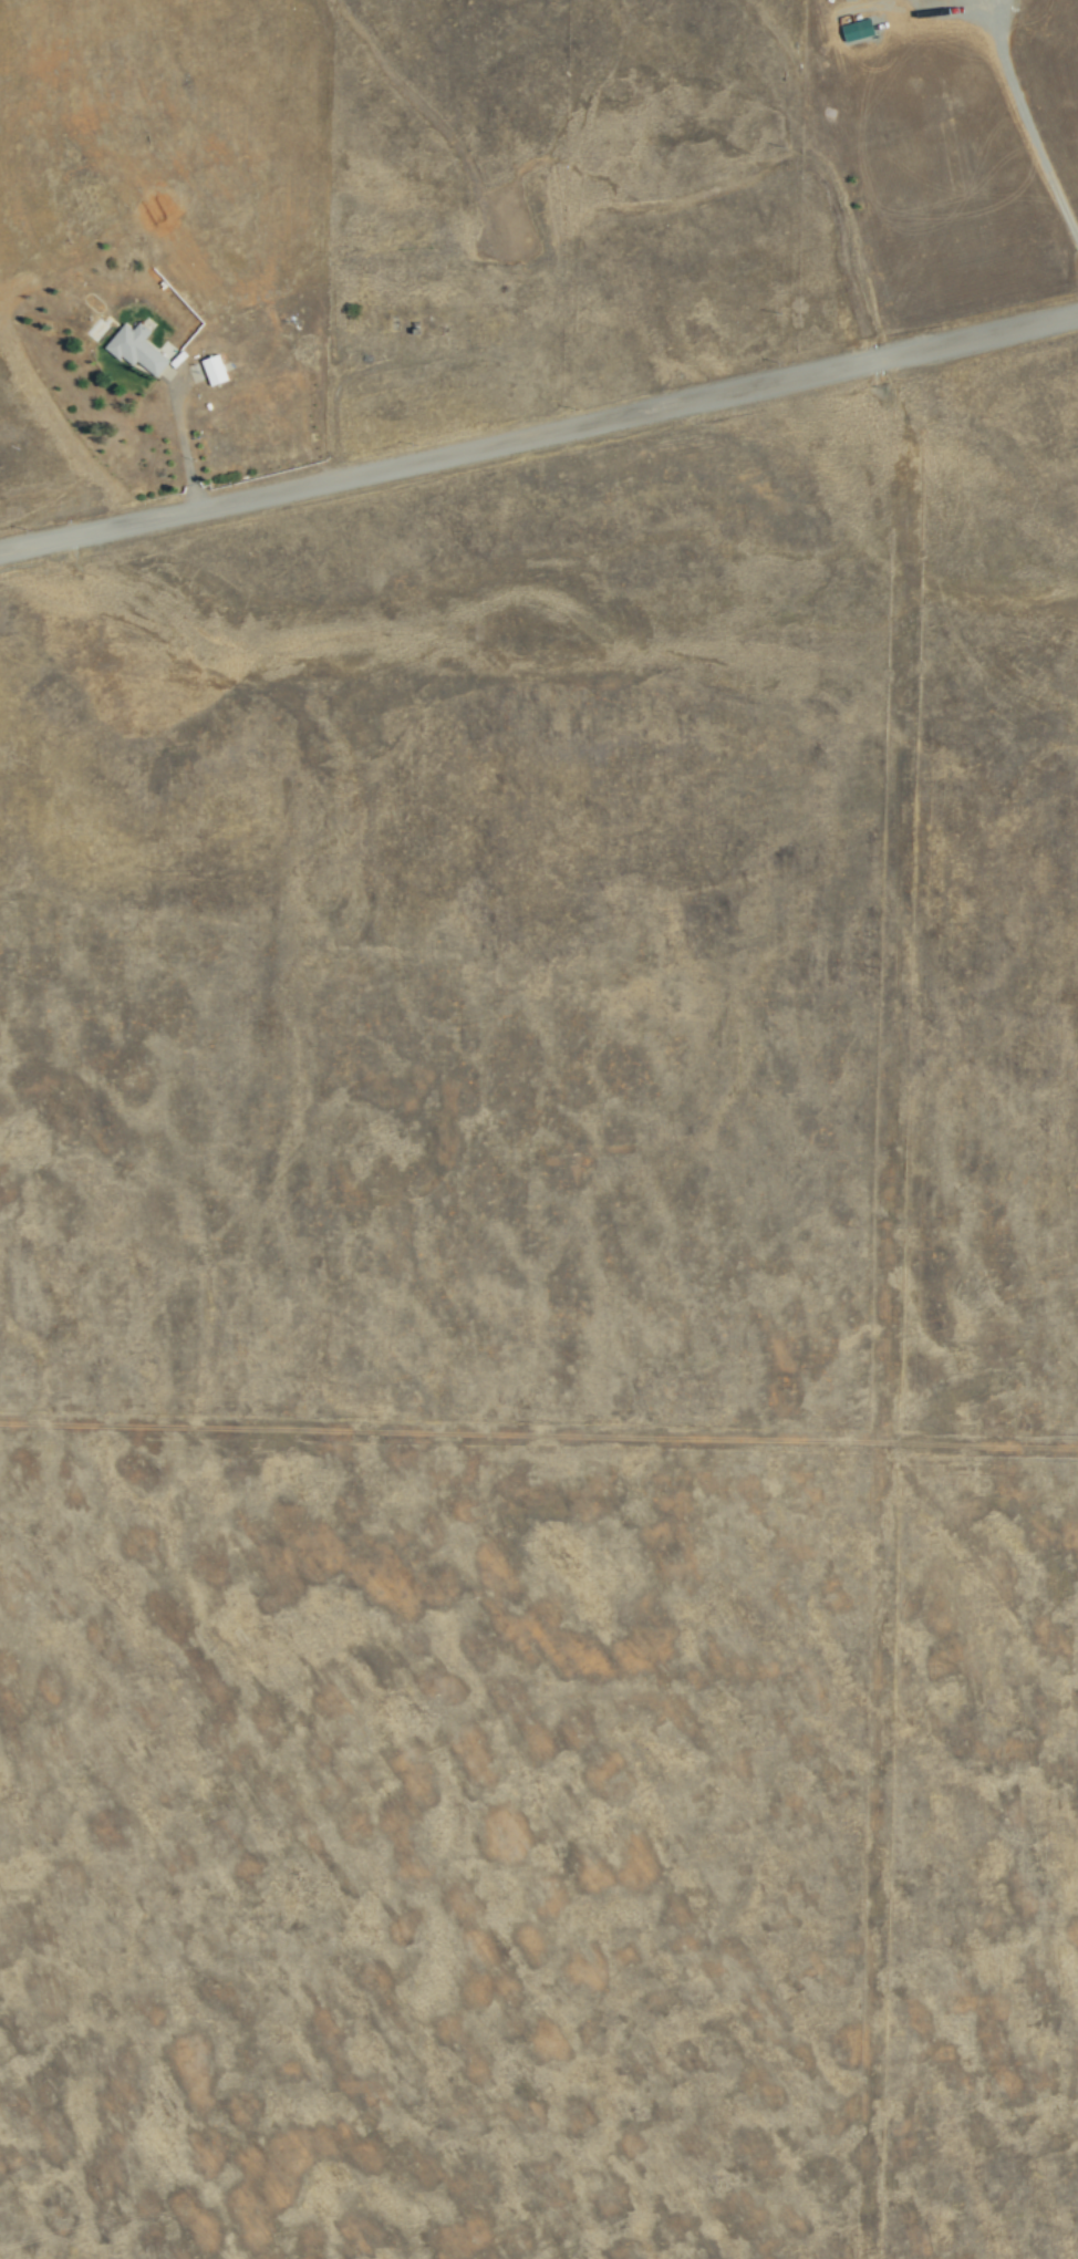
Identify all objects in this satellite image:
building: (220, 370)
road: (539, 434)

